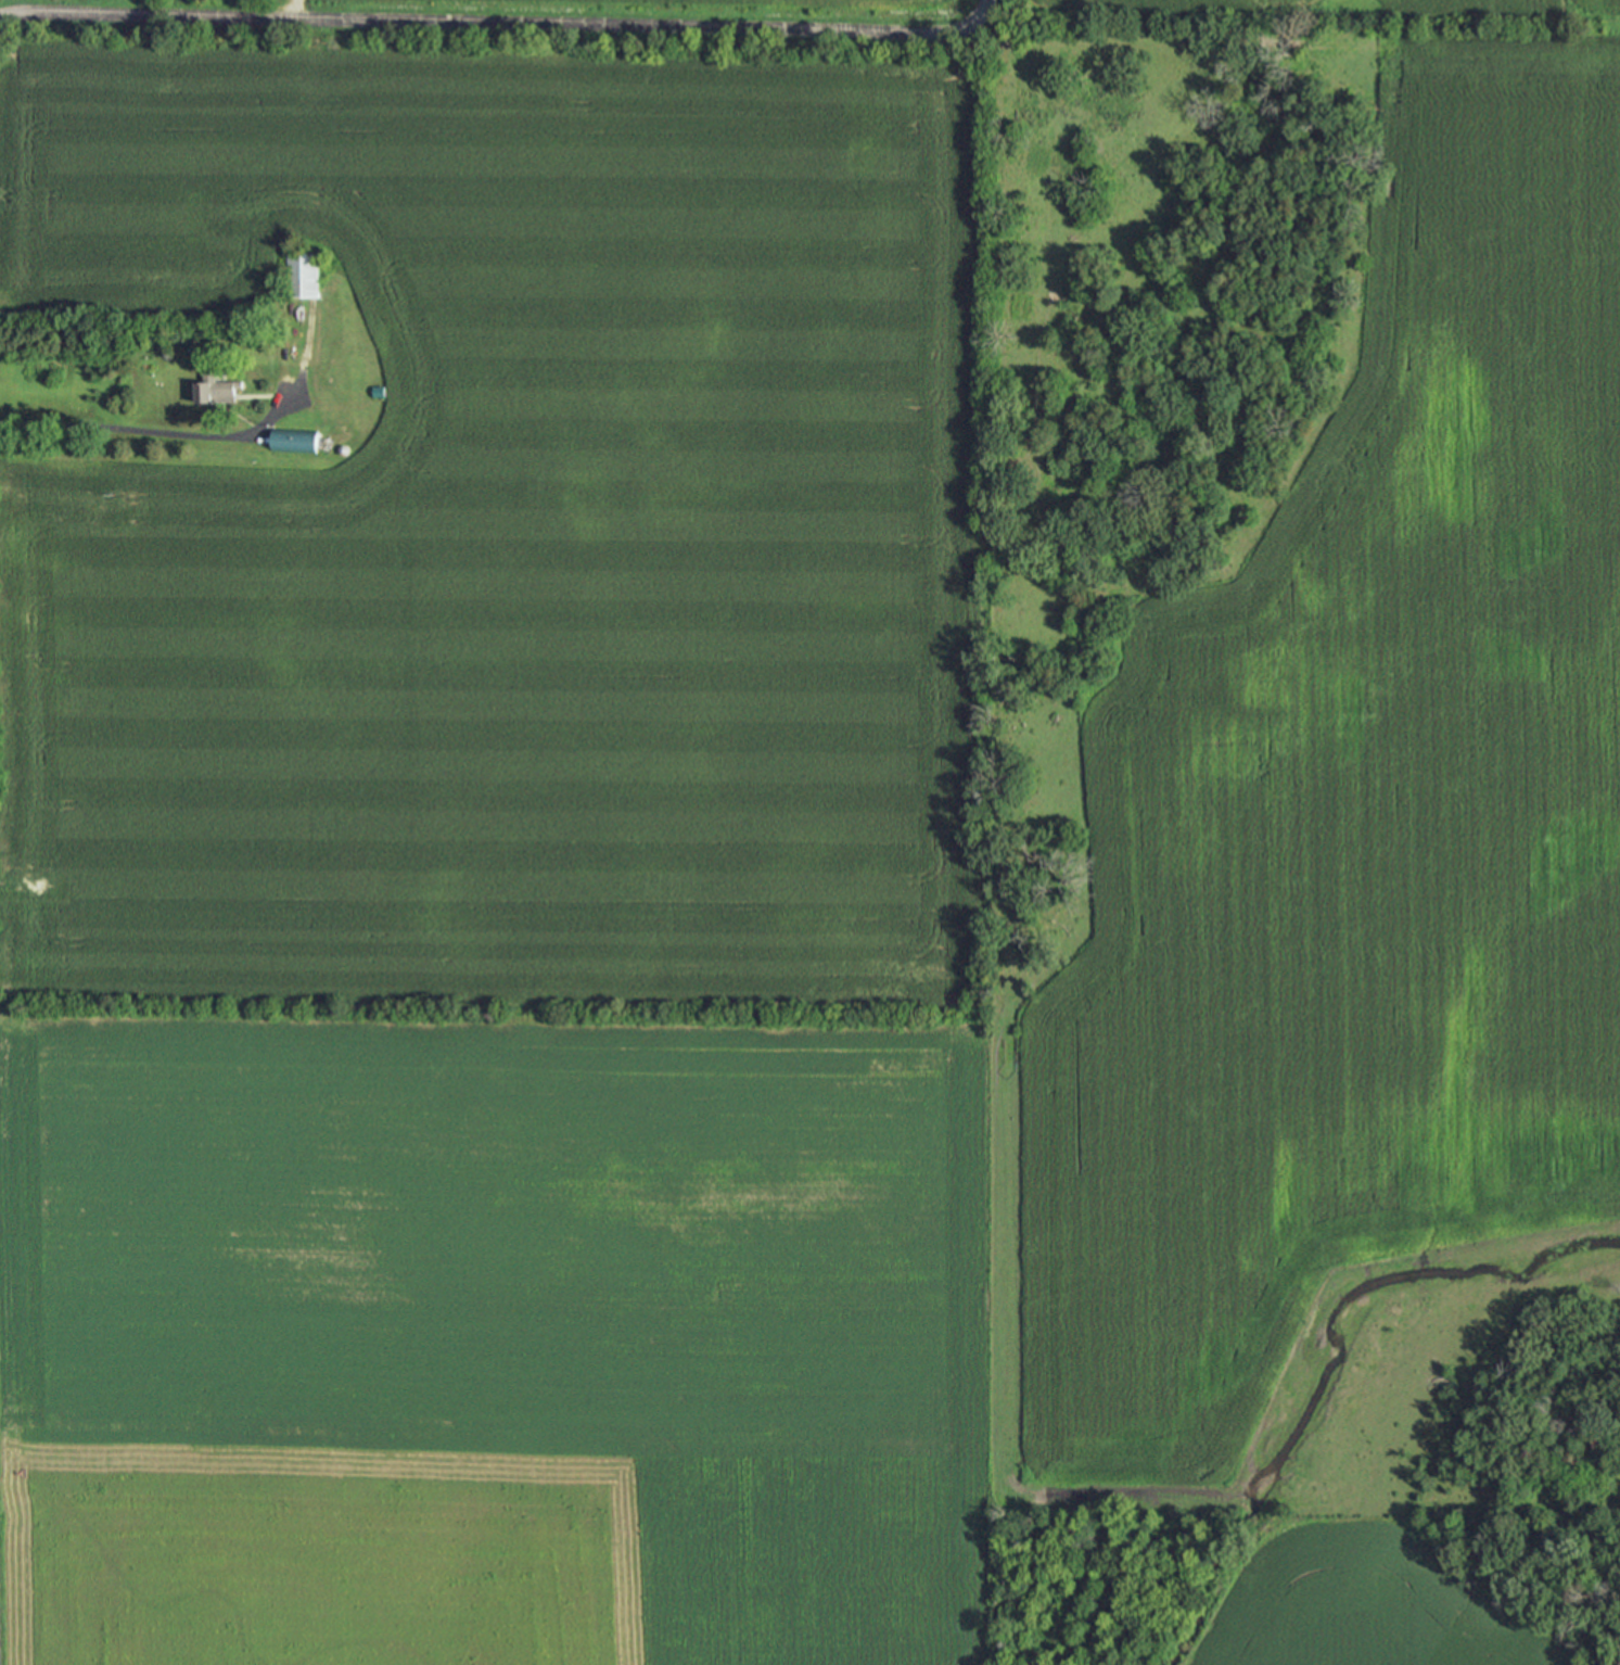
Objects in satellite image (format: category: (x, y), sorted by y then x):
road: (292, 9)
road: (503, 23)
building: (298, 275)
building: (209, 392)
road: (154, 432)
building: (289, 441)

